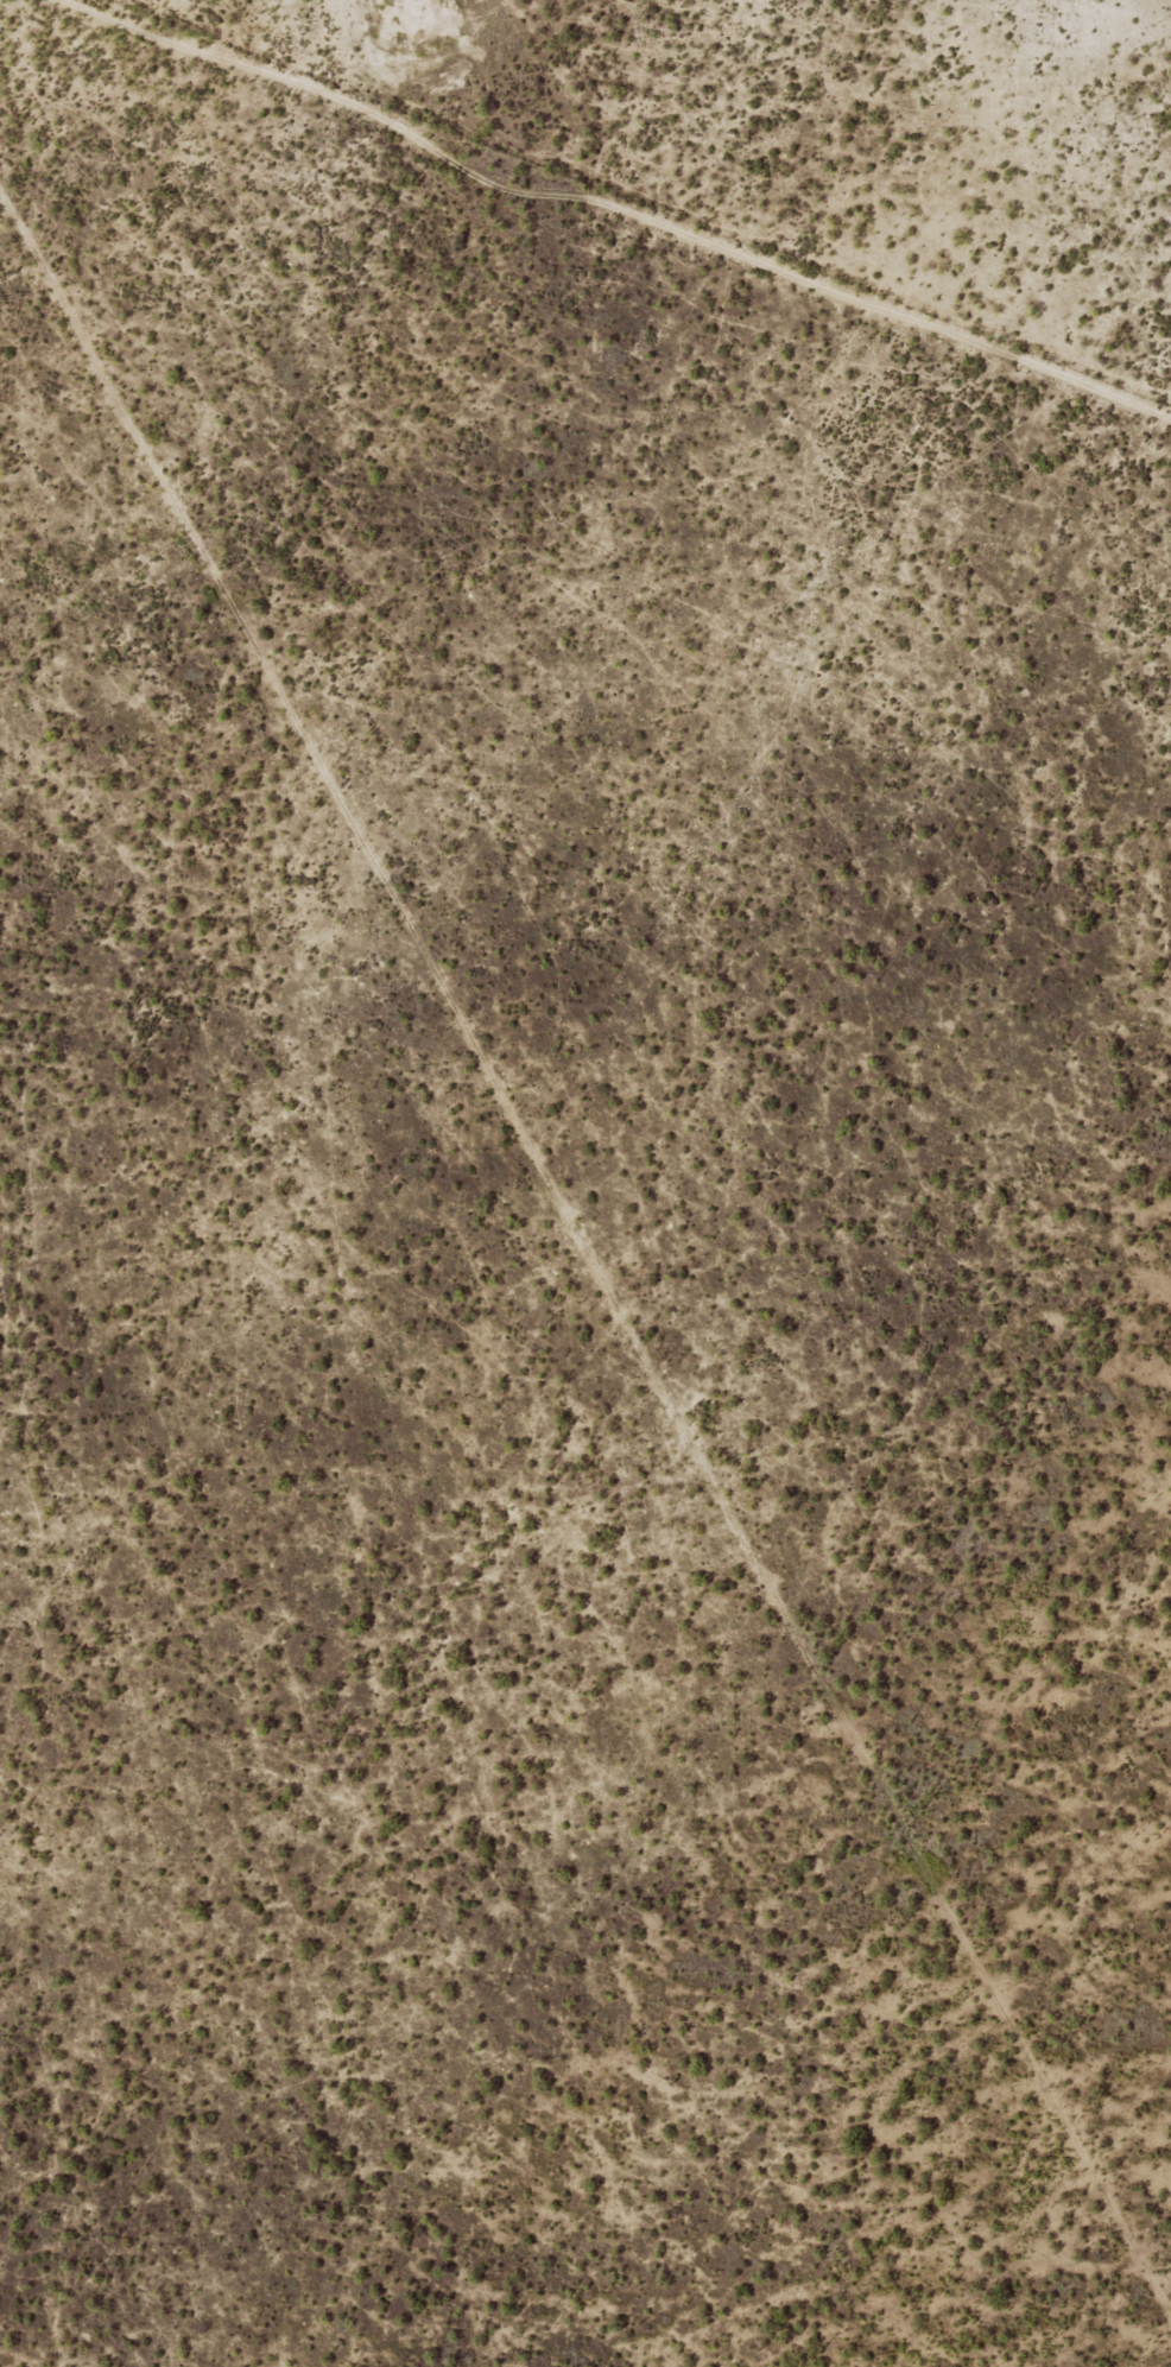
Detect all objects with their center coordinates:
road: (585, 217)

